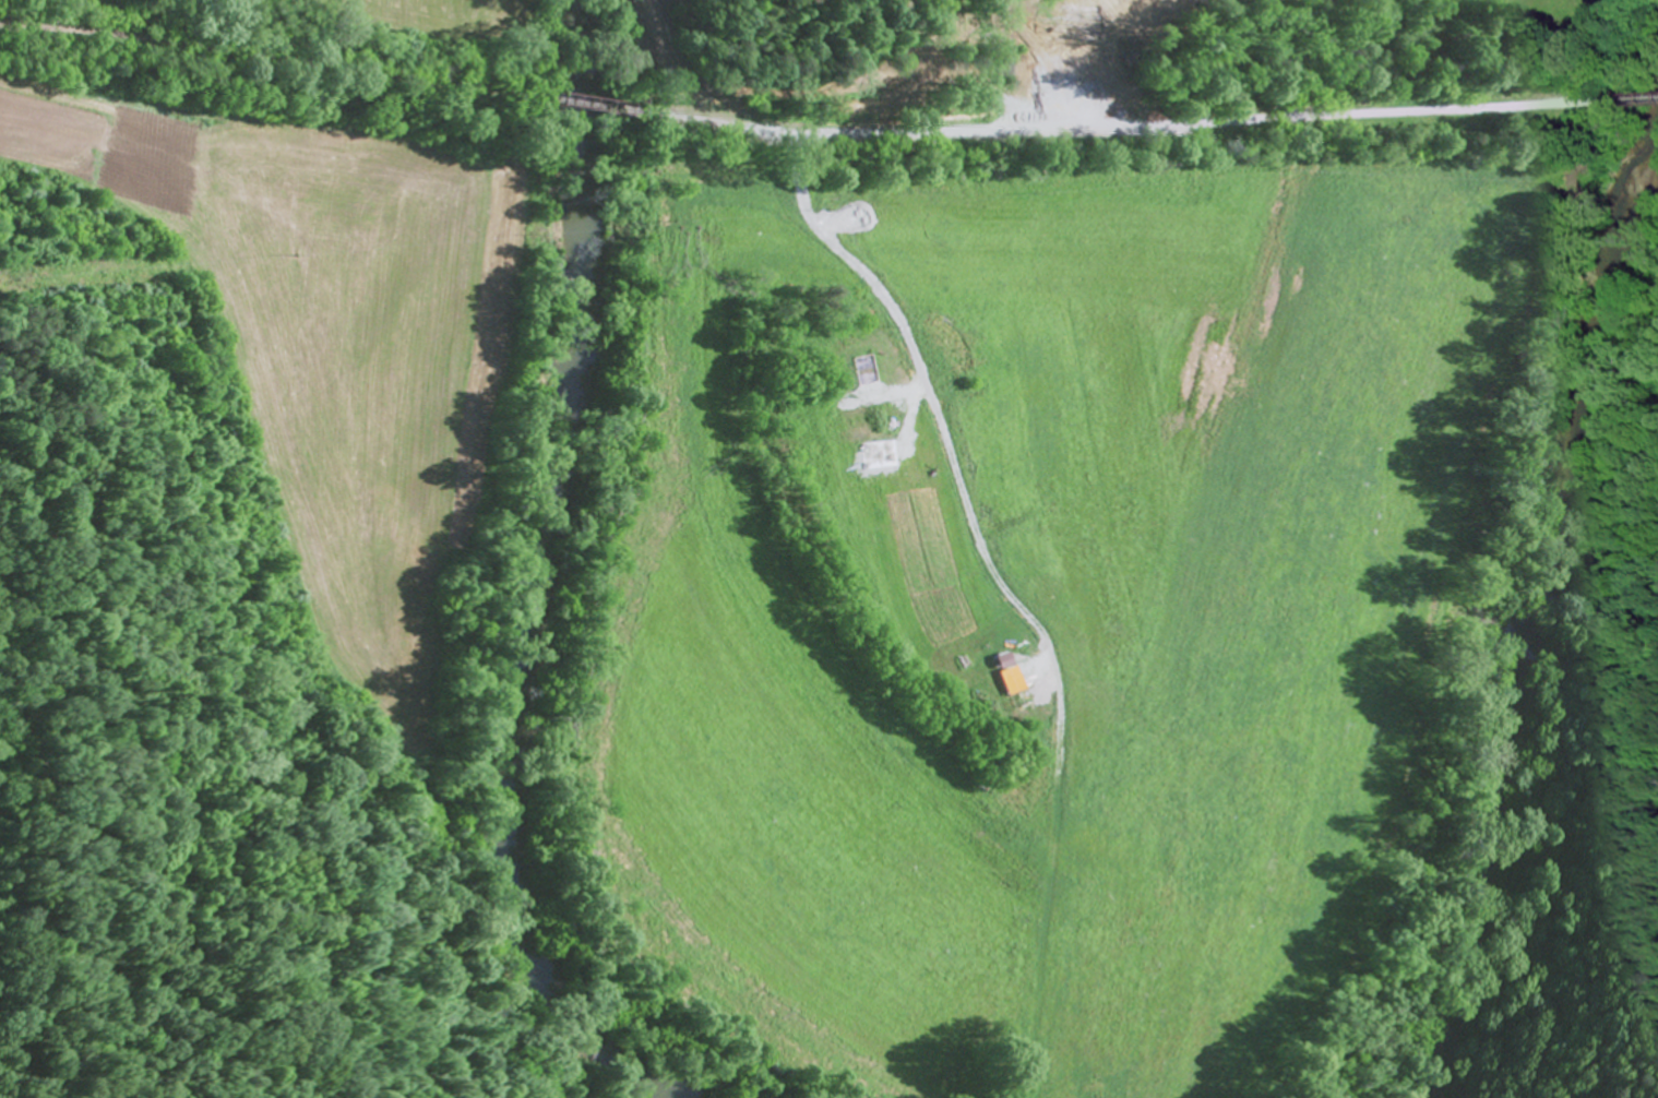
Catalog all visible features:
road: (275, 59)
road: (1630, 96)
road: (584, 105)
road: (1109, 127)
river: (529, 566)
river: (1514, 601)

